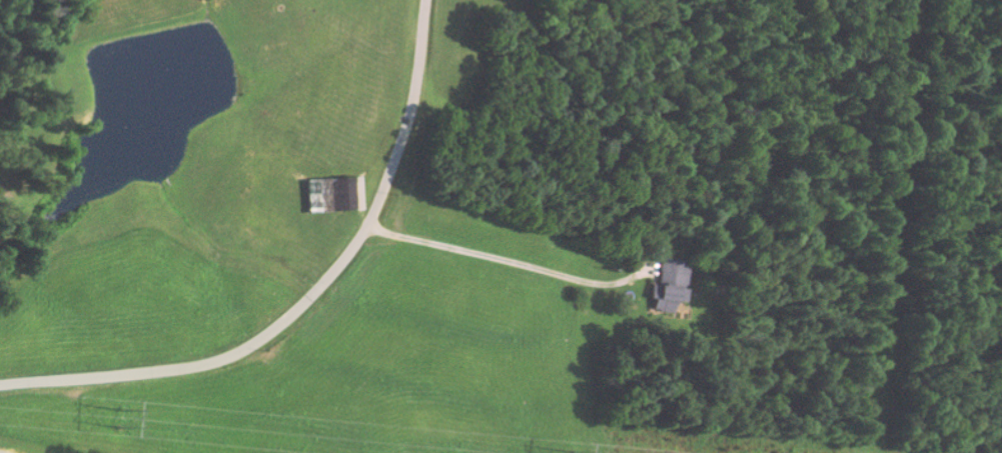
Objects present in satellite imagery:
road: (958, 53)
building: (672, 285)
road: (307, 298)
road: (495, 354)
power tower: (117, 417)

